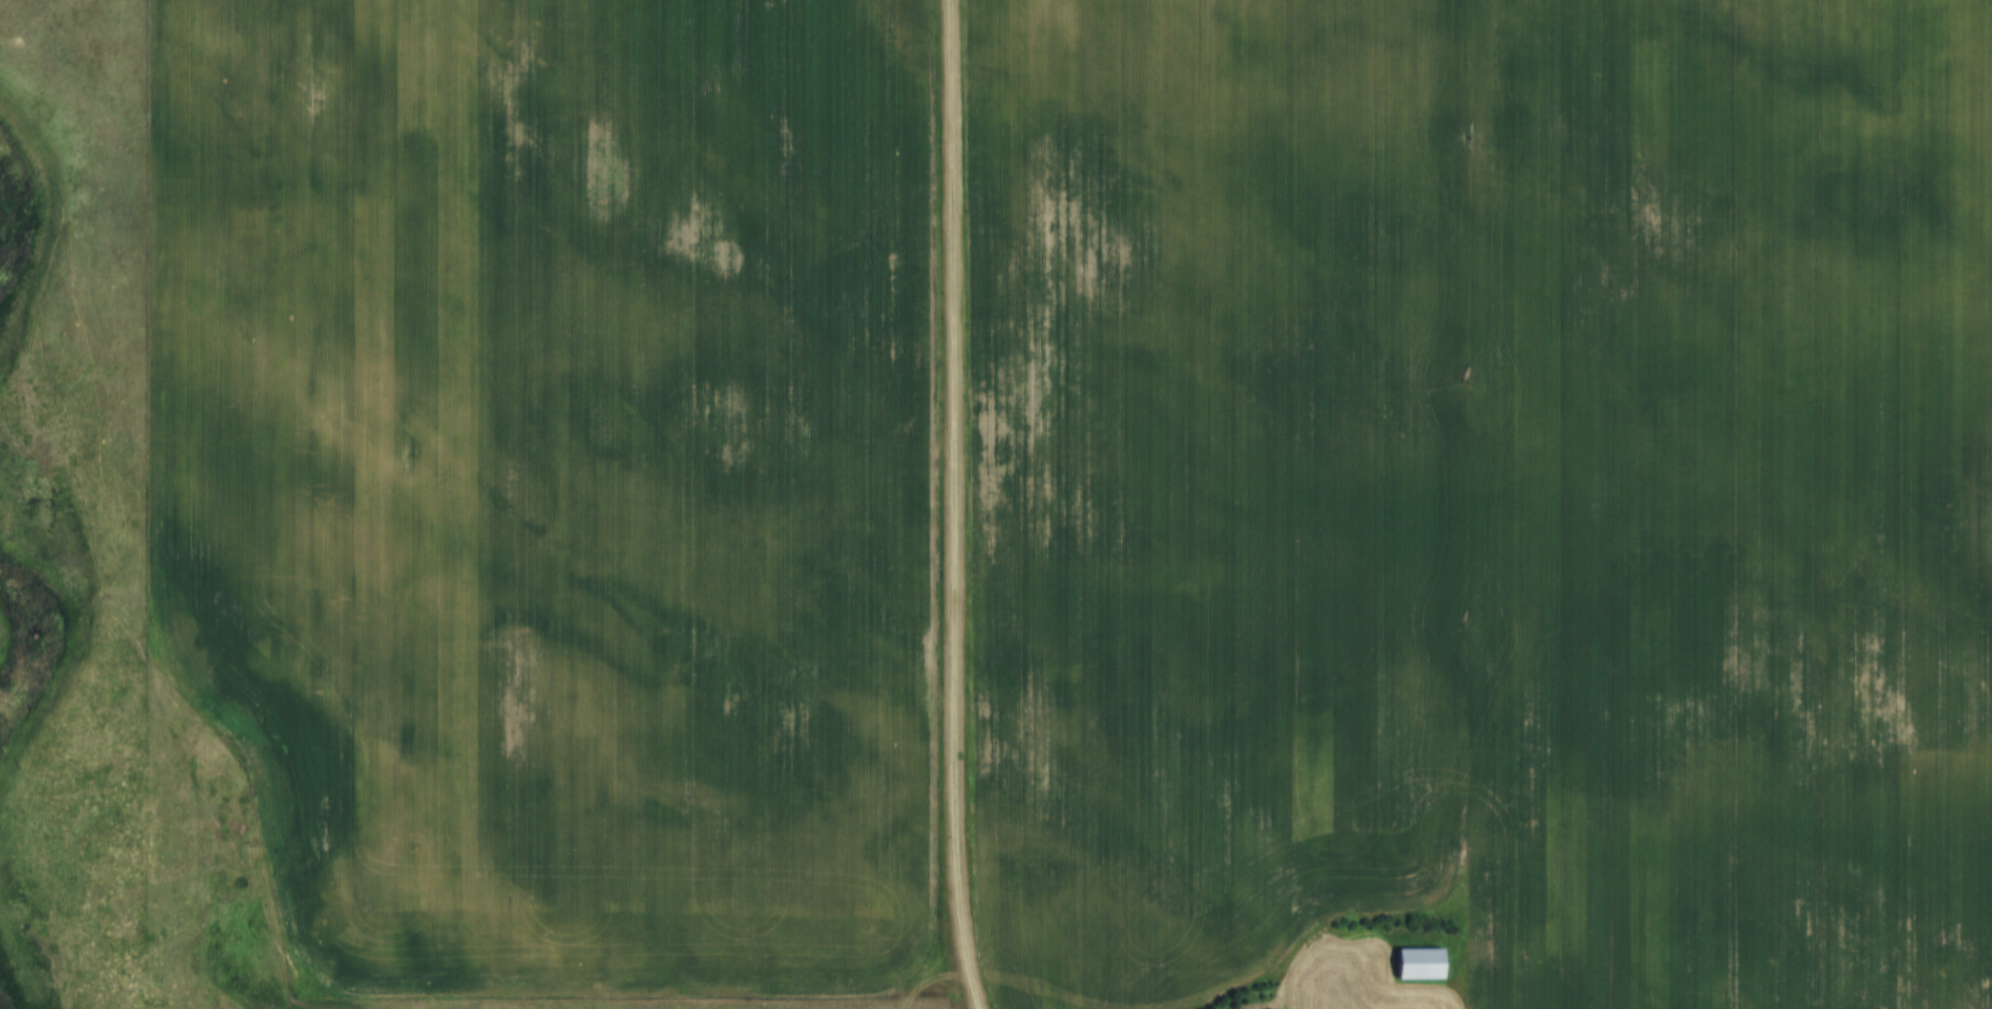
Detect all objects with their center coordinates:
road: (956, 505)
building: (1417, 965)

